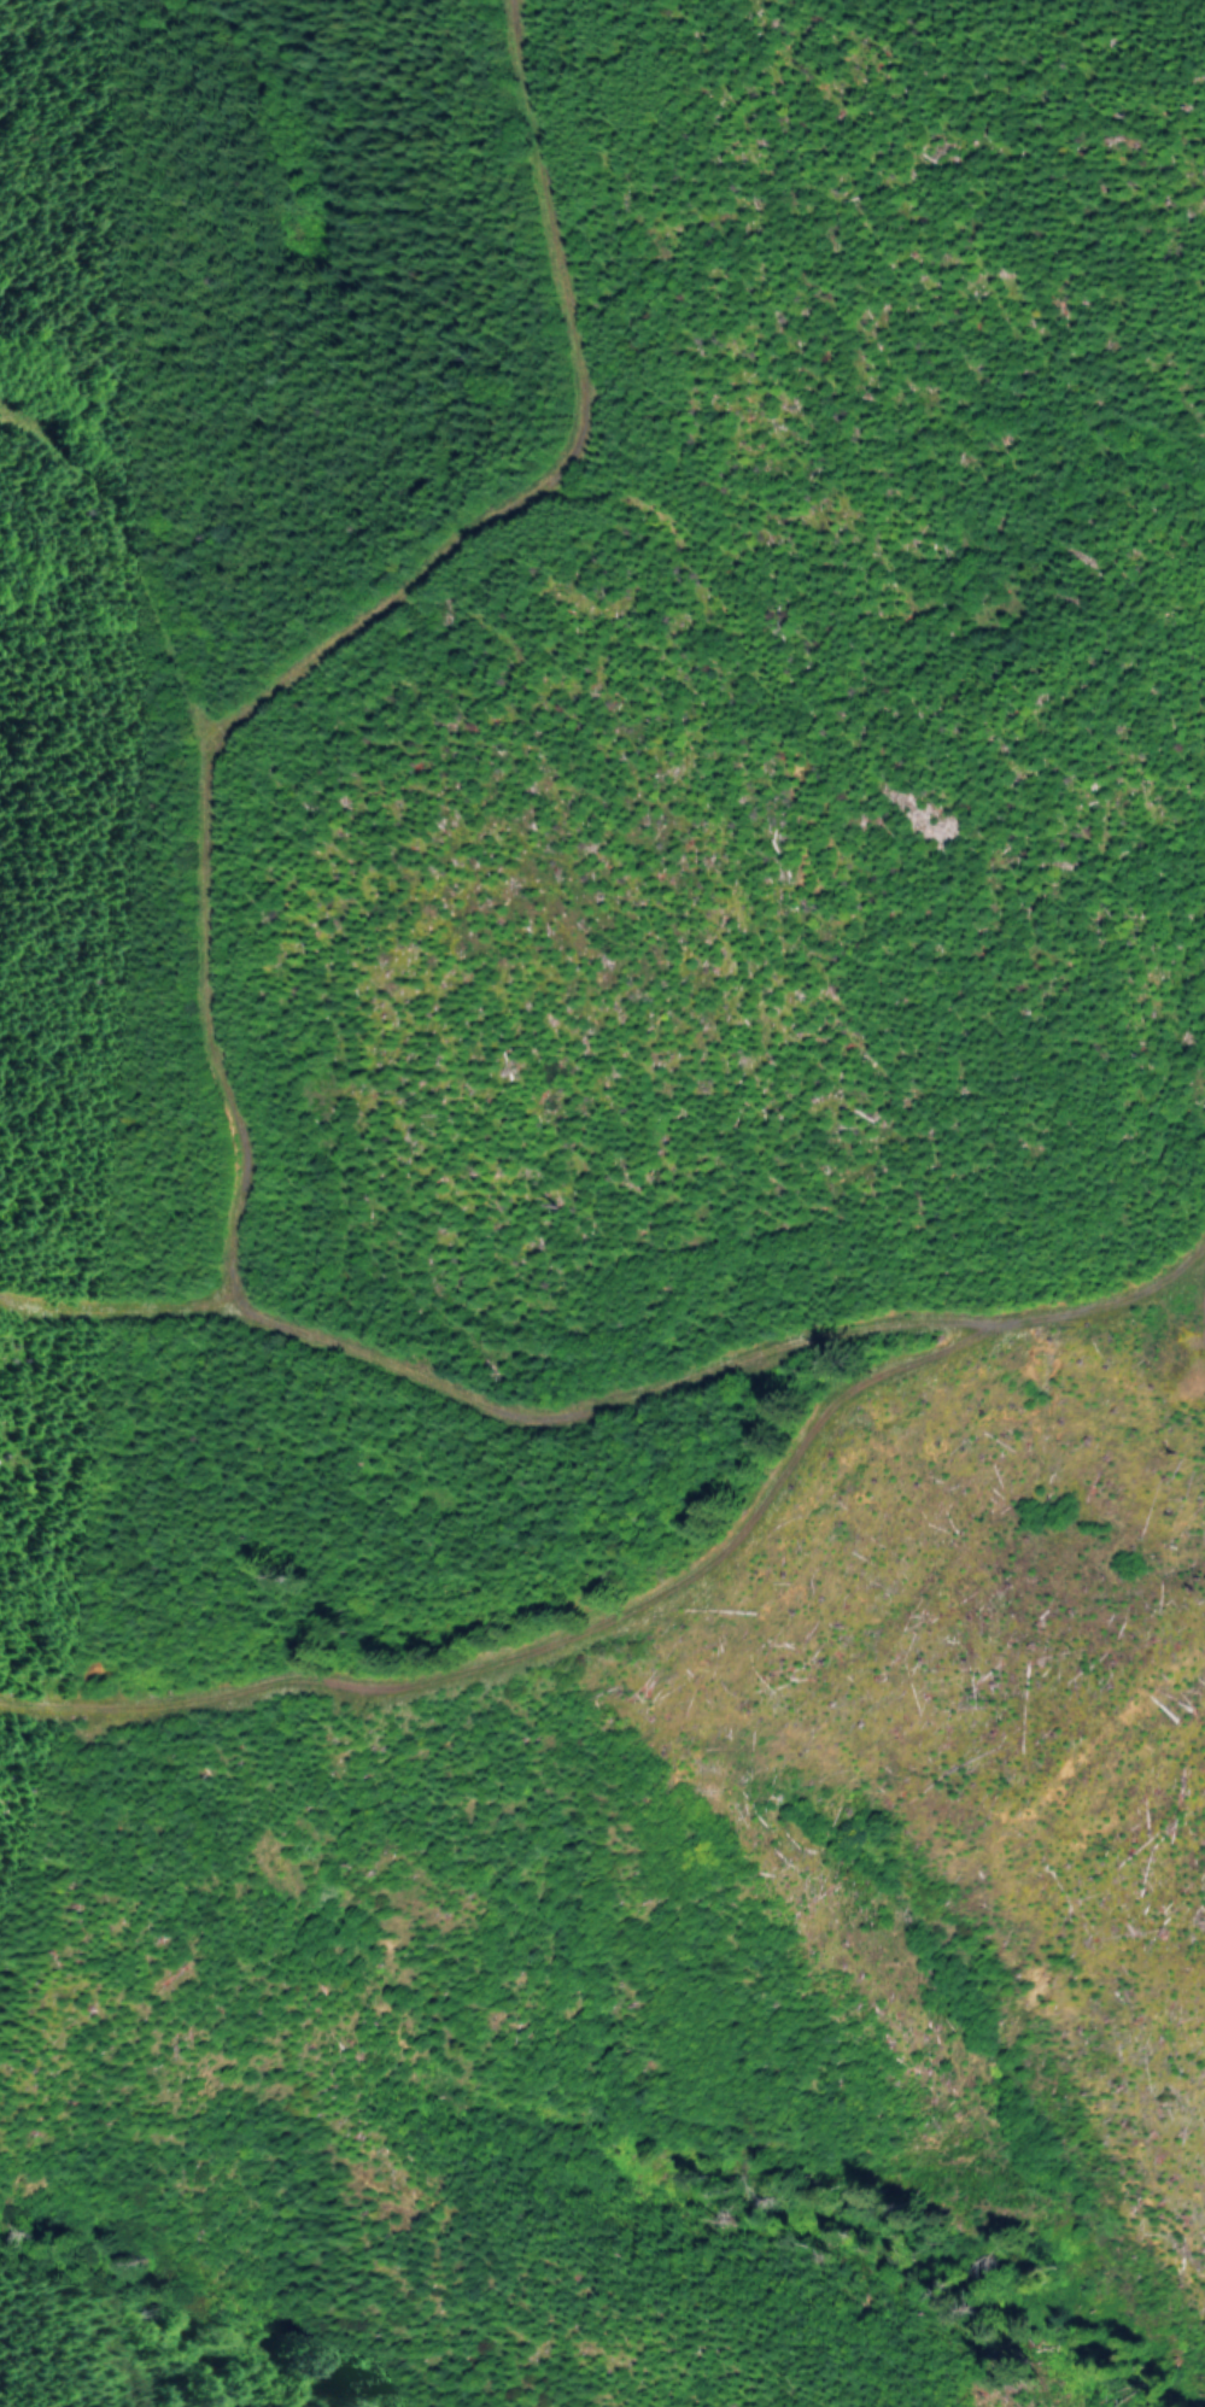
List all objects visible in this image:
road: (640, 1516)

